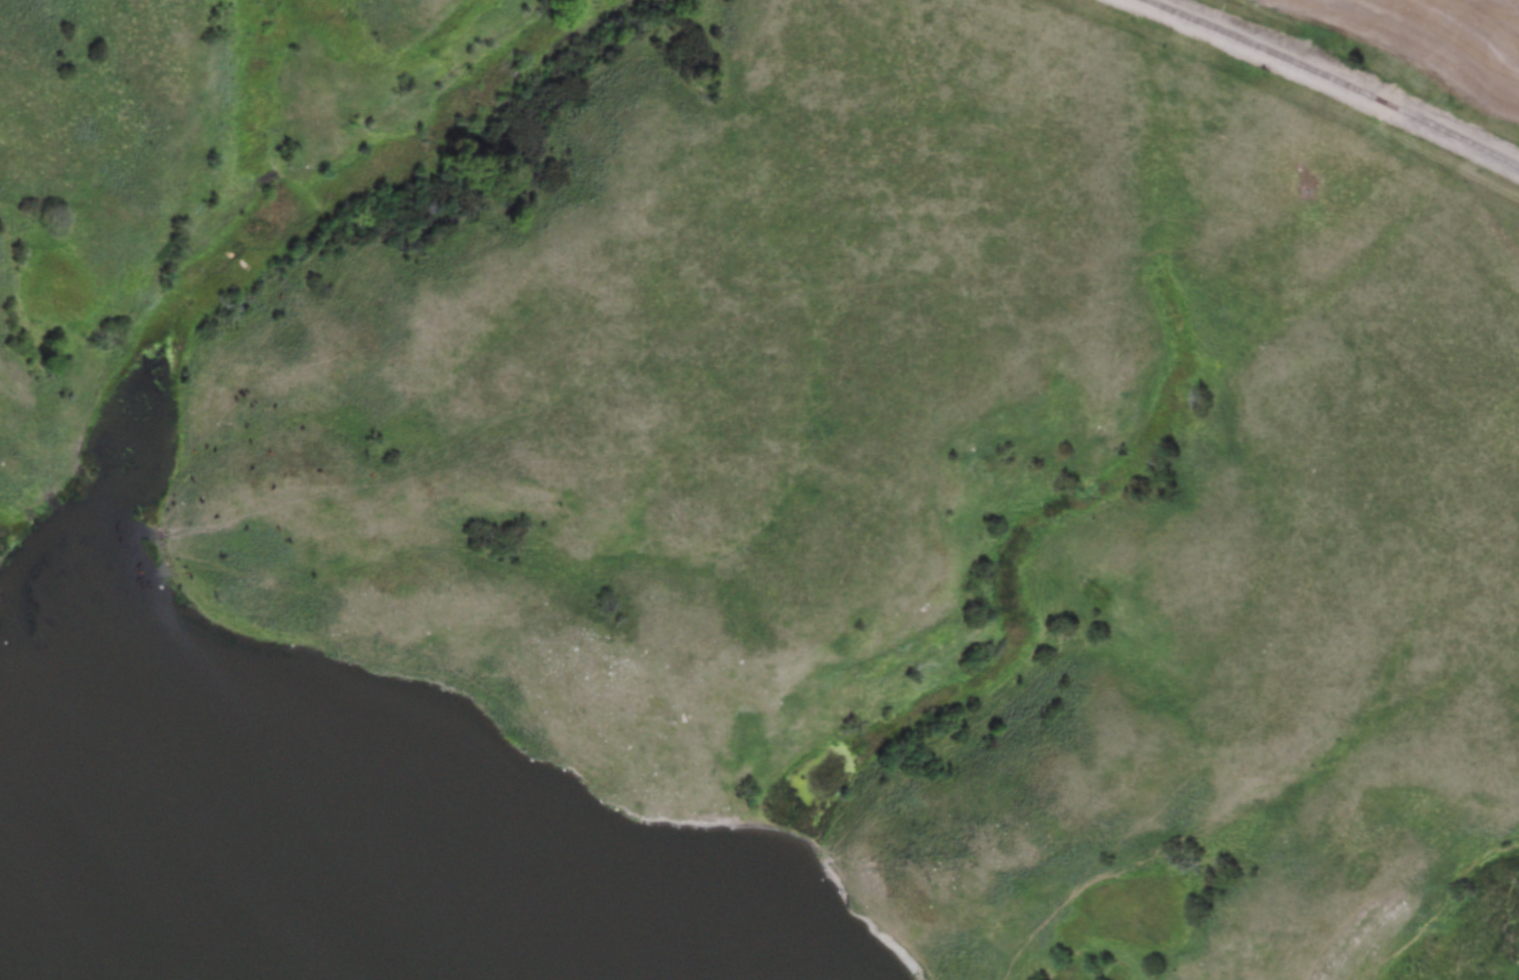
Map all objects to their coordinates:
railway: (1338, 78)
road: (1384, 123)

